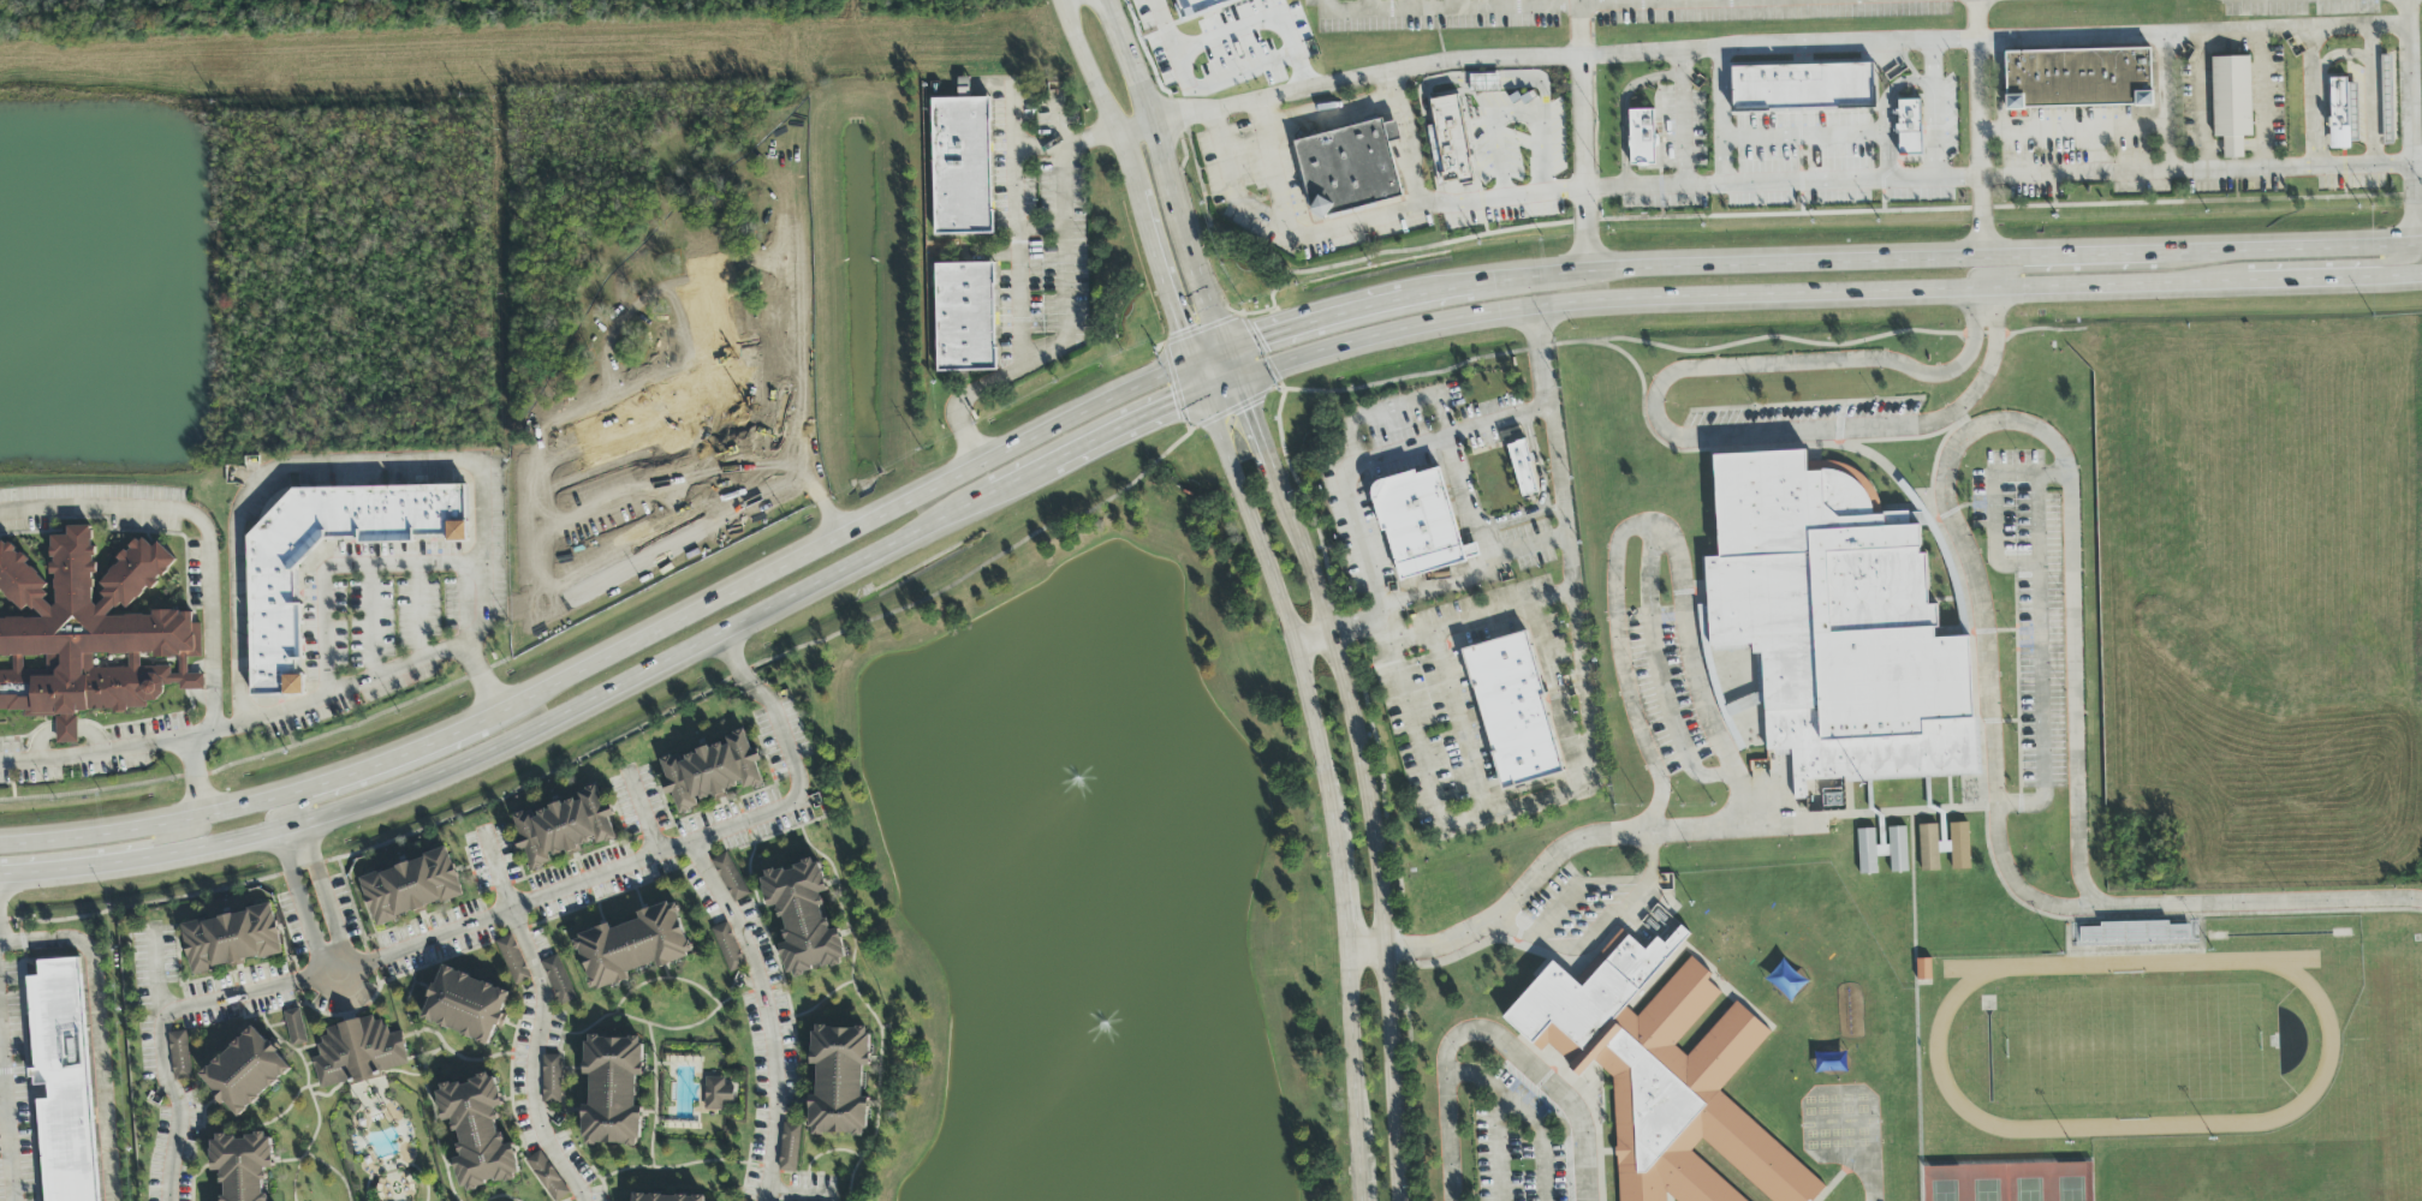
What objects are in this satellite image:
road: (1704, 0)
road: (1974, 0)
road: (1623, 1)
road: (1662, 1)
road: (1540, 2)
road: (1453, 4)
road: (1494, 4)
road: (1367, 5)
road: (1410, 5)
building: (1197, 6)
road: (1323, 6)
road: (1536, 6)
park: (221, 10)
road: (2190, 32)
road: (1838, 44)
road: (1088, 66)
road: (1423, 66)
road: (1183, 78)
road: (2165, 78)
building: (2078, 79)
building: (1483, 83)
building: (1803, 88)
road: (2370, 91)
road: (1626, 92)
road: (2311, 94)
road: (2260, 96)
road: (2200, 97)
building: (2387, 100)
building: (2231, 103)
road: (1885, 104)
road: (1933, 109)
road: (1523, 112)
building: (2341, 113)
road: (1721, 116)
road: (1058, 118)
road: (2410, 121)
road: (2094, 125)
road: (1133, 127)
building: (1909, 127)
road: (1975, 127)
building: (1453, 129)
road: (1581, 136)
building: (1641, 137)
road: (1408, 139)
road: (1804, 139)
road: (1156, 144)
road: (1066, 147)
road: (1495, 153)
road: (1540, 156)
building: (1350, 162)
building: (962, 166)
road: (2200, 166)
road: (1269, 167)
road: (1625, 171)
road: (1685, 171)
road: (1832, 181)
road: (1357, 222)
road: (1016, 223)
road: (1928, 256)
road: (1159, 261)
road: (2358, 263)
road: (2064, 269)
road: (1894, 291)
road: (1983, 299)
road: (1332, 315)
building: (965, 317)
road: (1216, 318)
traffic signals: (1182, 329)
traffic signals: (1262, 336)
road: (1065, 339)
road: (1210, 352)
road: (1305, 353)
road: (1951, 371)
road: (1222, 381)
traffic signals: (1172, 402)
road: (1251, 405)
traffic signals: (1252, 407)
road: (1124, 425)
road: (1969, 431)
road: (1730, 436)
road: (1371, 459)
road: (456, 462)
building: (1522, 468)
road: (1016, 478)
road: (1995, 503)
road: (1971, 504)
road: (202, 524)
building: (1420, 524)
road: (1643, 525)
road: (840, 531)
road: (1551, 534)
road: (340, 564)
building: (272, 586)
road: (417, 613)
road: (1458, 621)
road: (373, 622)
building: (1838, 625)
building: (89, 631)
road: (1310, 635)
road: (2040, 662)
road: (1658, 674)
road: (480, 679)
building: (1513, 711)
road: (1457, 721)
road: (650, 724)
road: (64, 729)
road: (288, 729)
road: (513, 740)
road: (438, 741)
road: (120, 748)
road: (260, 755)
road: (795, 766)
fountain: (1076, 769)
building: (710, 772)
road: (195, 776)
road: (11, 781)
road: (1327, 785)
road: (1547, 791)
road: (326, 797)
road: (1951, 809)
road: (641, 811)
road: (192, 818)
road: (1370, 826)
road: (1737, 827)
building: (563, 829)
building: (1959, 847)
building: (1928, 849)
road: (102, 850)
building: (1882, 850)
road: (1650, 853)
road: (496, 868)
building: (730, 878)
building: (411, 888)
road: (327, 895)
road: (297, 903)
road: (2263, 903)
road: (1558, 908)
road: (353, 910)
road: (2166, 916)
building: (803, 919)
road: (736, 925)
road: (20, 933)
building: (231, 939)
road: (1439, 945)
building: (632, 946)
building: (728, 948)
road: (1367, 951)
building: (513, 961)
road: (155, 968)
building: (1923, 969)
road: (335, 973)
road: (537, 975)
building: (558, 980)
building: (465, 1005)
fountain: (1091, 1005)
road: (1916, 1006)
road: (159, 1027)
road: (97, 1028)
building: (294, 1028)
road: (1490, 1034)
building: (357, 1053)
building: (179, 1056)
building: (245, 1072)
building: (1660, 1072)
road: (1, 1074)
building: (551, 1078)
building: (839, 1081)
building: (63, 1082)
road: (2, 1088)
building: (612, 1091)
building: (716, 1094)
road: (6, 1112)
road: (1523, 1113)
building: (477, 1133)
road: (1499, 1147)
building: (790, 1148)
road: (2006, 1163)
building: (243, 1165)
building: (547, 1177)
road: (1870, 1178)
park: (2009, 1181)
road: (802, 1195)
building: (665, 1197)
building: (736, 1200)

